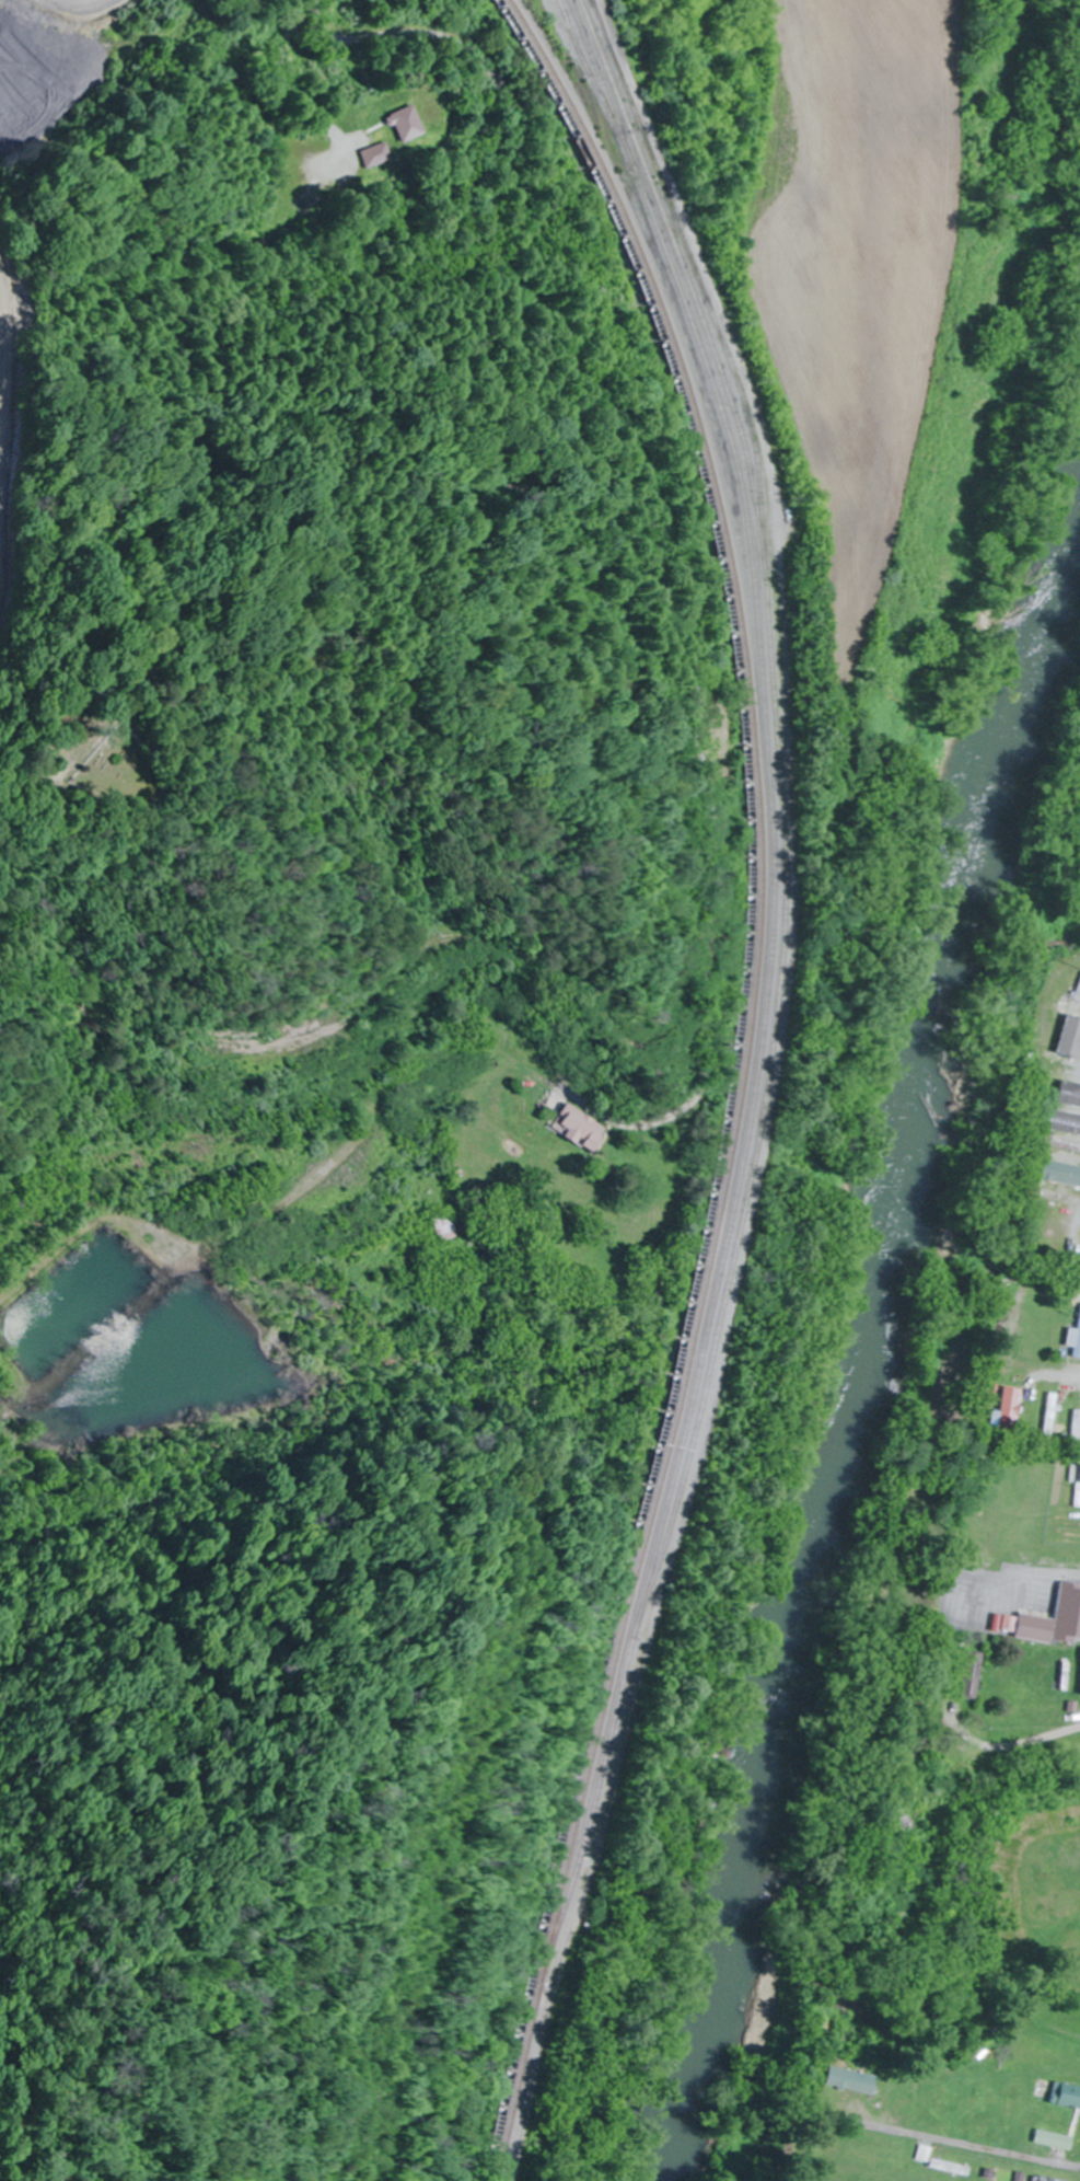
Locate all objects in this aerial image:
building: (403, 125)
building: (373, 157)
railway: (717, 285)
road: (12, 454)
road: (658, 536)
road: (22, 797)
building: (1065, 1046)
building: (1071, 1068)
railway: (741, 1080)
building: (1069, 1098)
building: (585, 1129)
building: (1064, 1134)
building: (1065, 1154)
building: (1060, 1168)
building: (1058, 1185)
building: (446, 1226)
building: (1075, 1341)
river: (872, 1353)
building: (1009, 1409)
building: (1048, 1416)
building: (1075, 1428)
road: (1012, 1583)
building: (1054, 1622)
road: (1019, 1739)
building: (1076, 1965)
building: (850, 2082)
building: (1066, 2096)
building: (1054, 2140)
building: (1048, 2179)

